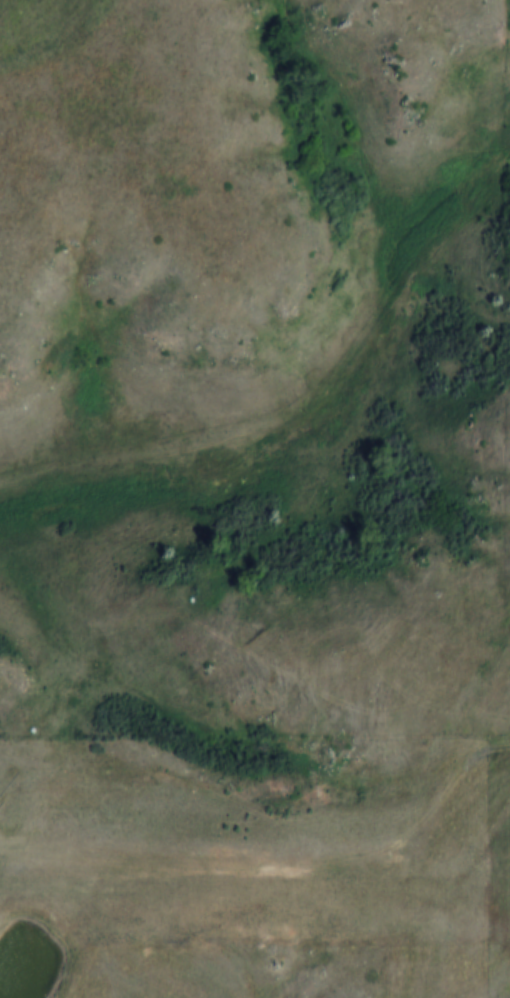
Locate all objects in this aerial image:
road: (23, 787)

